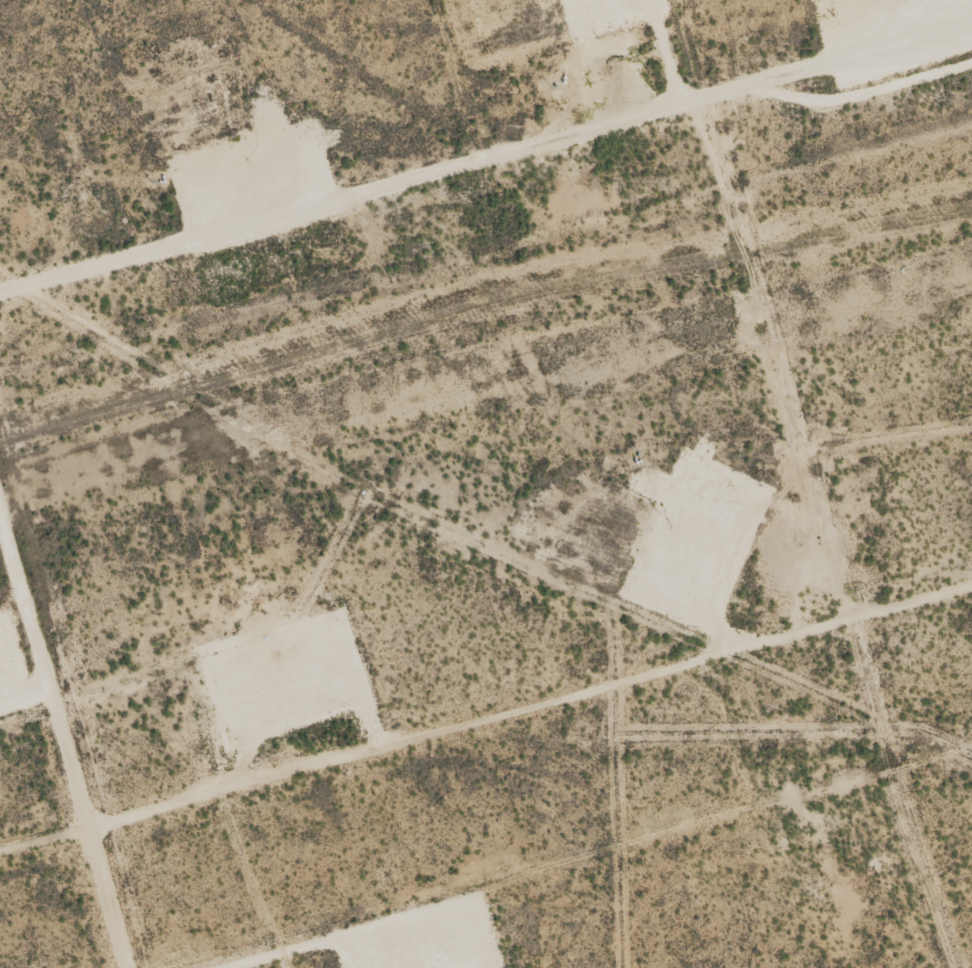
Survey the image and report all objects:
road: (486, 140)
road: (508, 720)
road: (37, 831)

